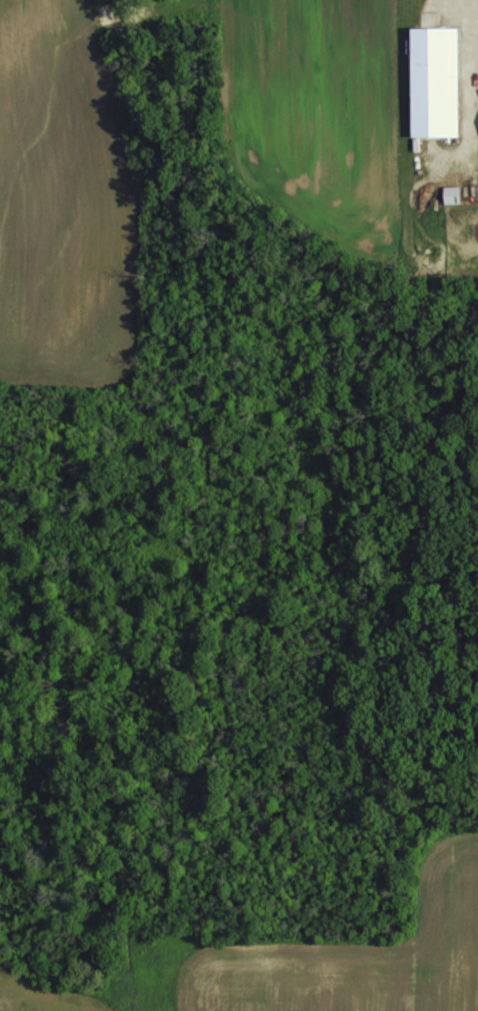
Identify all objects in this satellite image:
road: (473, 41)
building: (433, 79)
building: (451, 192)

